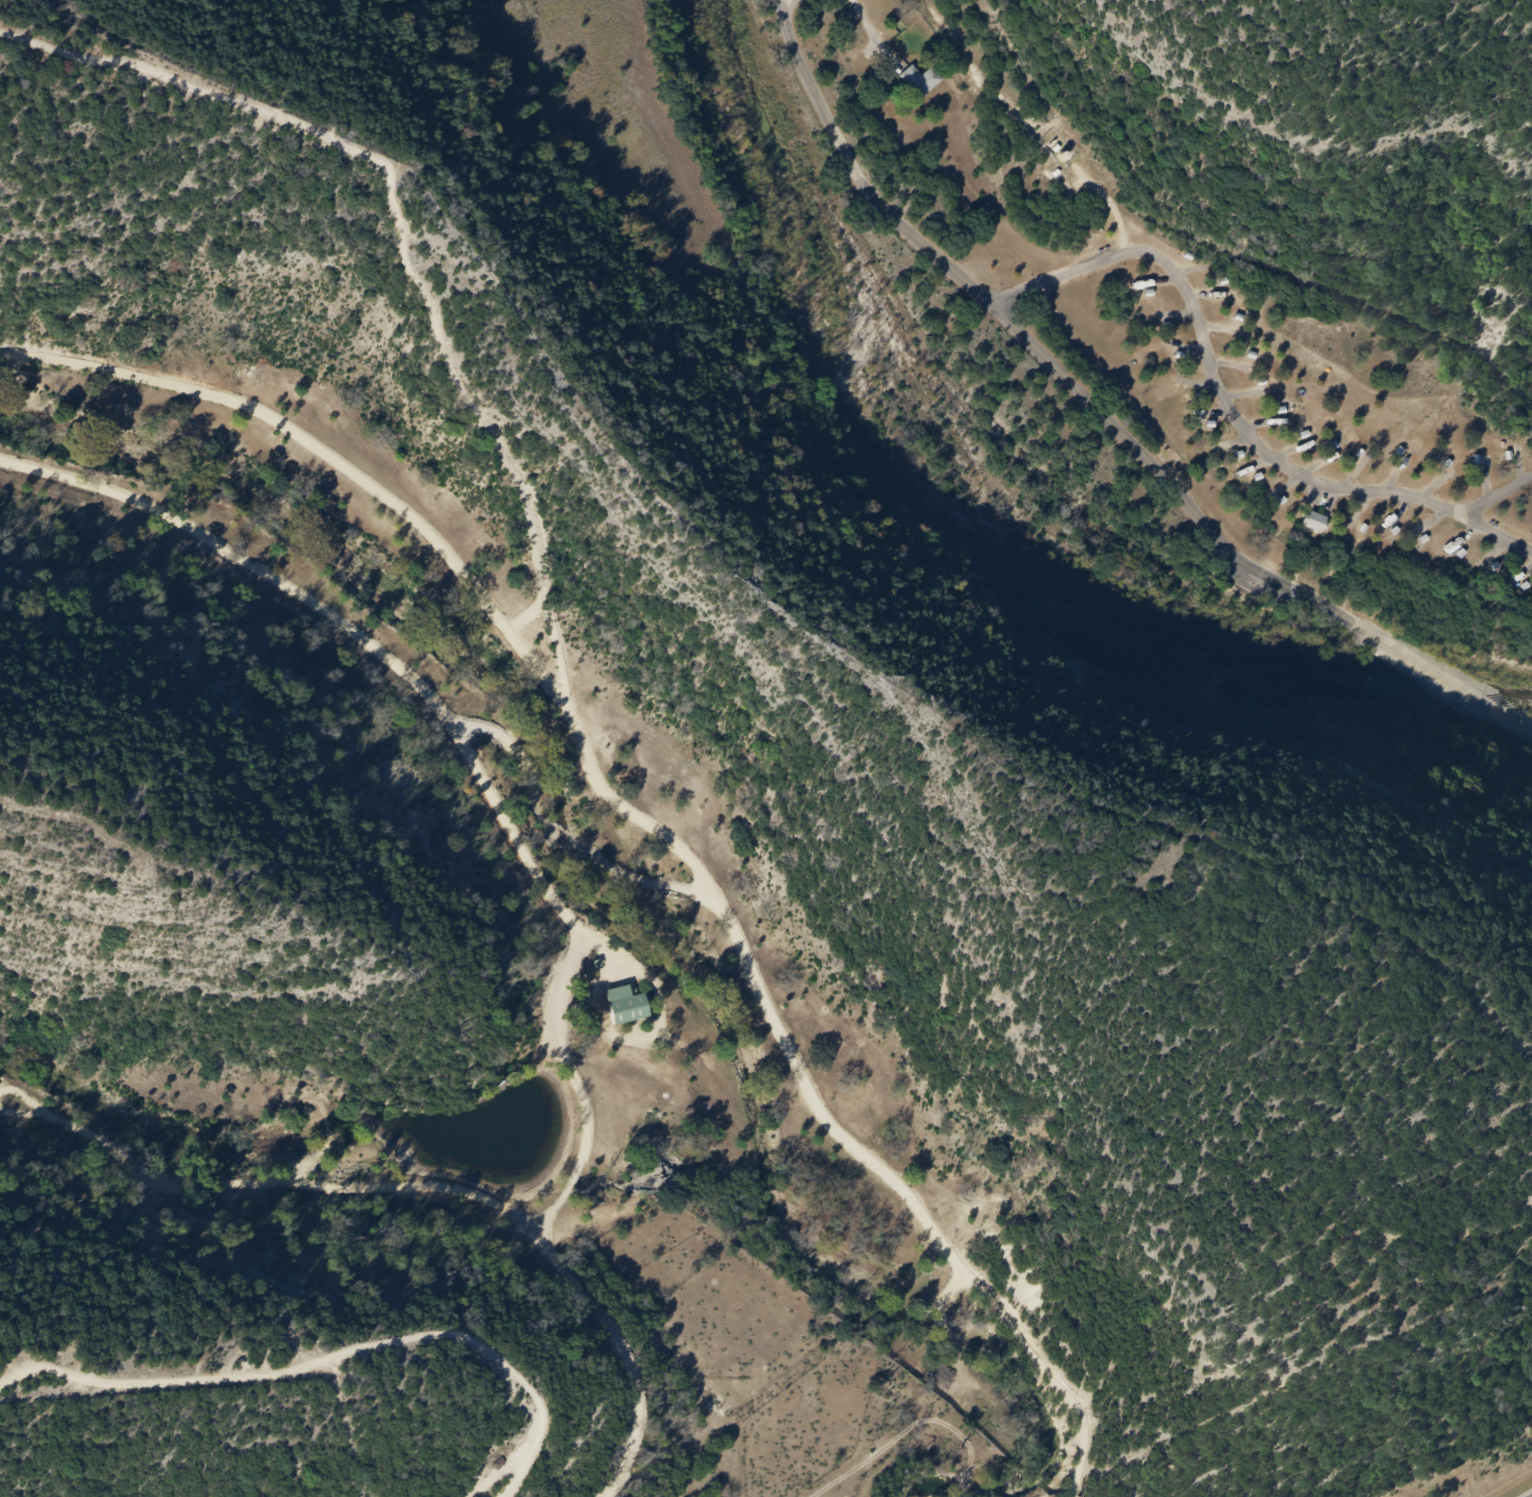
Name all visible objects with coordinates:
road: (866, 26)
building: (918, 78)
storage tank: (1059, 154)
road: (405, 243)
road: (1190, 269)
road: (1065, 273)
road: (1158, 281)
road: (1205, 294)
road: (1174, 311)
road: (1217, 329)
road: (1185, 347)
road: (1230, 366)
park: (1045, 373)
road: (1196, 383)
road: (1241, 395)
road: (1214, 412)
road: (1104, 416)
road: (1260, 424)
road: (1252, 438)
road: (1231, 441)
road: (1274, 458)
road: (1522, 465)
road: (1354, 473)
road: (1296, 474)
road: (1394, 477)
road: (1487, 481)
road: (1435, 486)
road: (1496, 497)
road: (1358, 507)
road: (1401, 509)
river: (927, 513)
road: (1429, 519)
building: (1315, 521)
road: (1494, 531)
road: (1462, 535)
road: (429, 536)
road: (1493, 551)
road: (1524, 569)
road: (1257, 582)
river: (1523, 699)
river: (1483, 706)
road: (642, 880)
building: (627, 1005)
road: (26, 1099)
road: (24, 1113)
road: (549, 1212)
road: (625, 1352)
road: (331, 1359)
road: (934, 1406)
road: (614, 1493)

